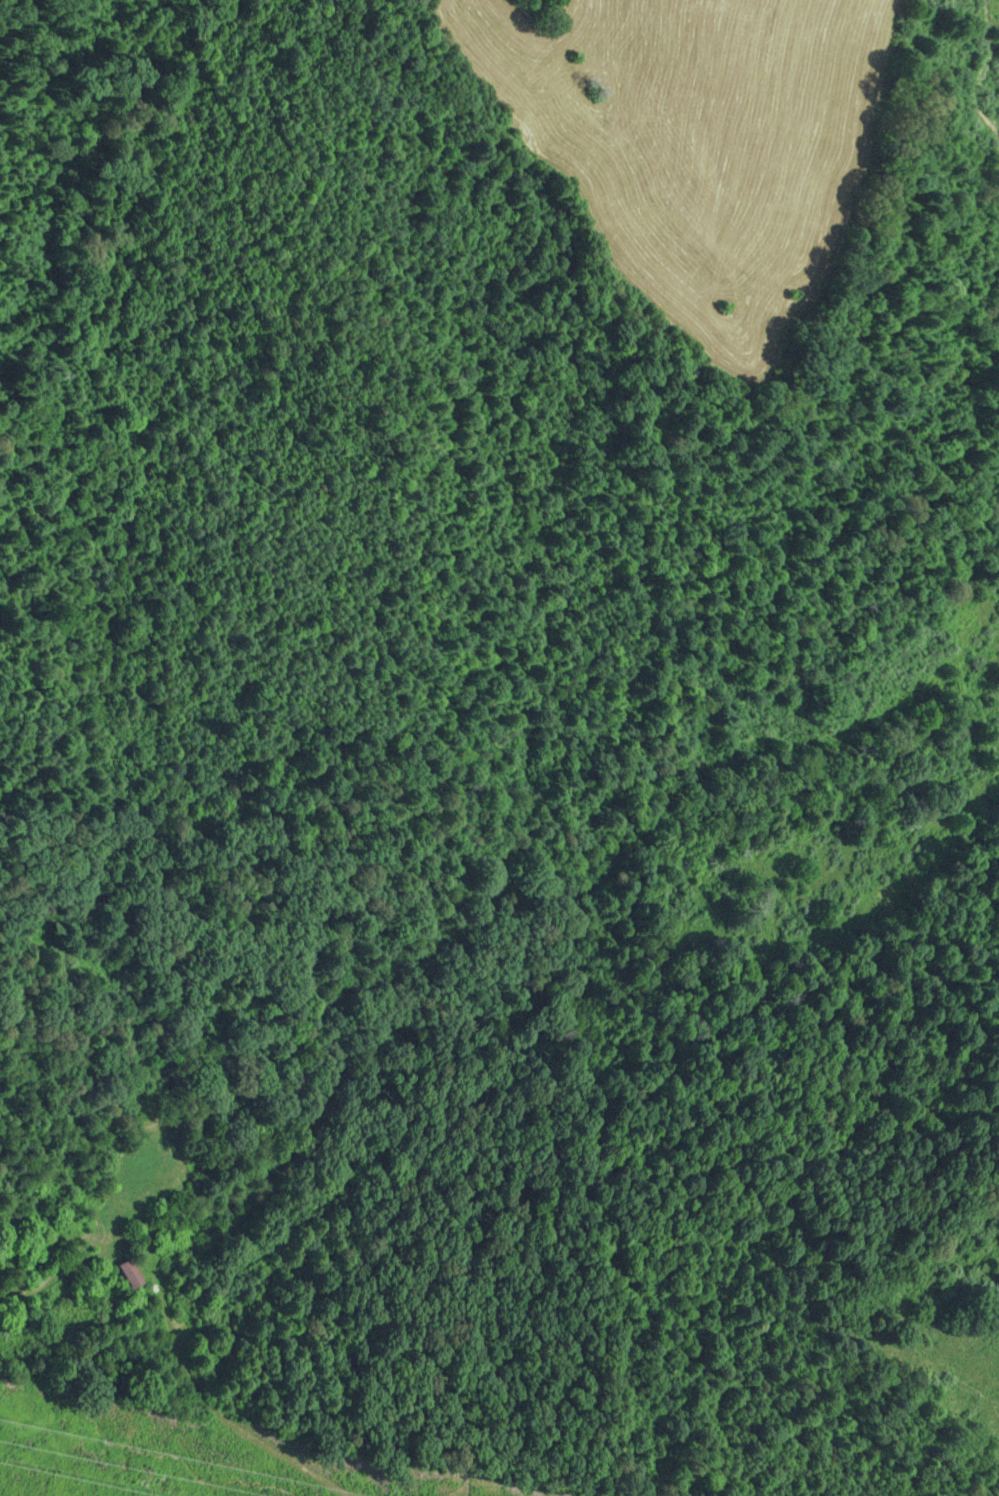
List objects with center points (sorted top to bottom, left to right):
building: (135, 1276)

